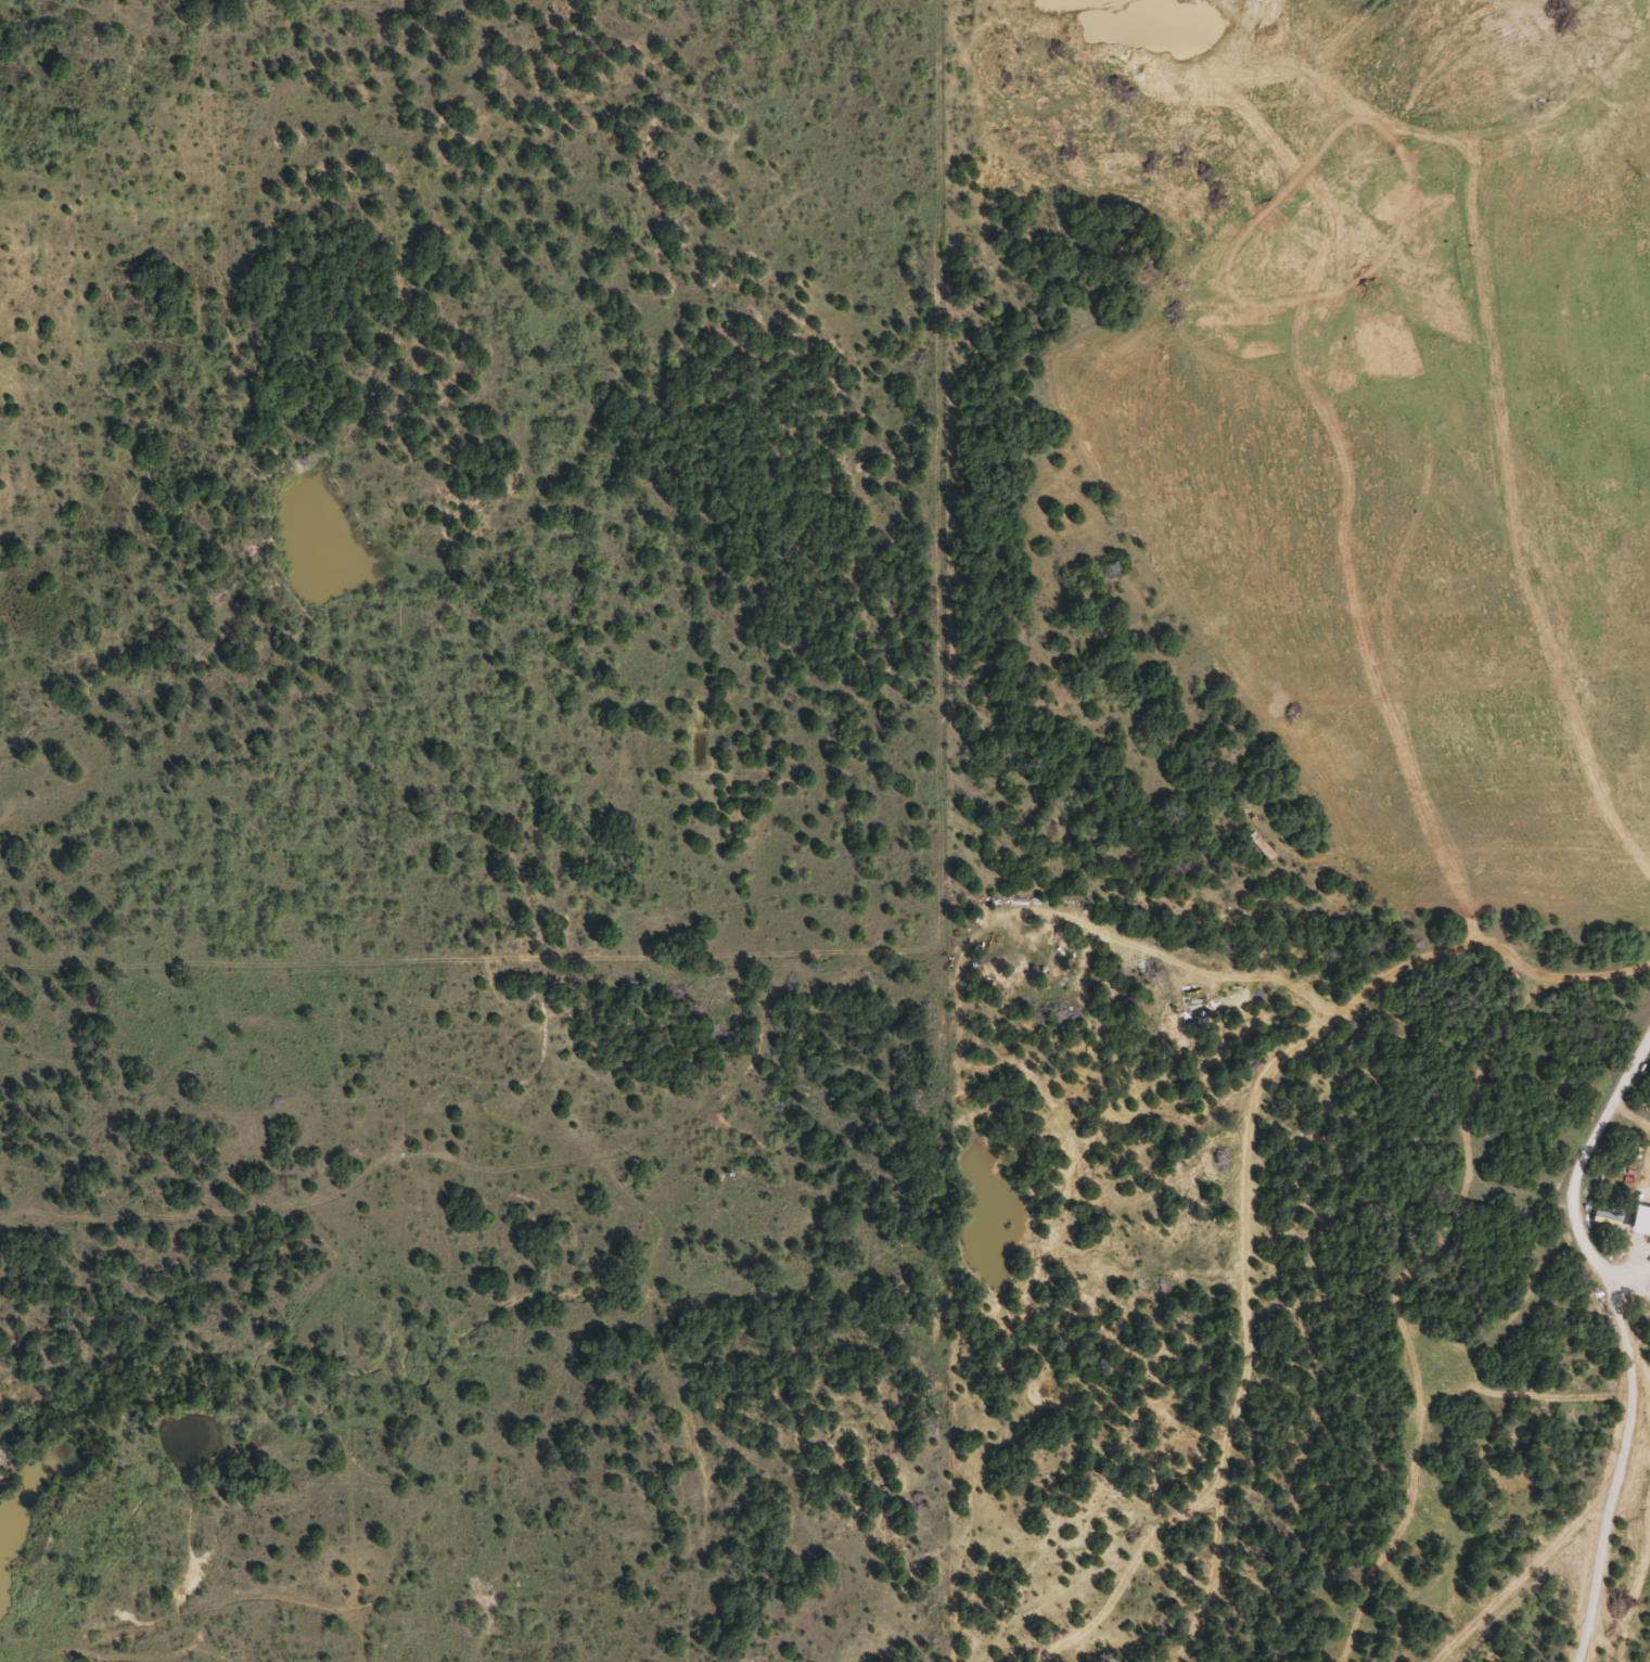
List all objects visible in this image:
building: (1262, 847)

